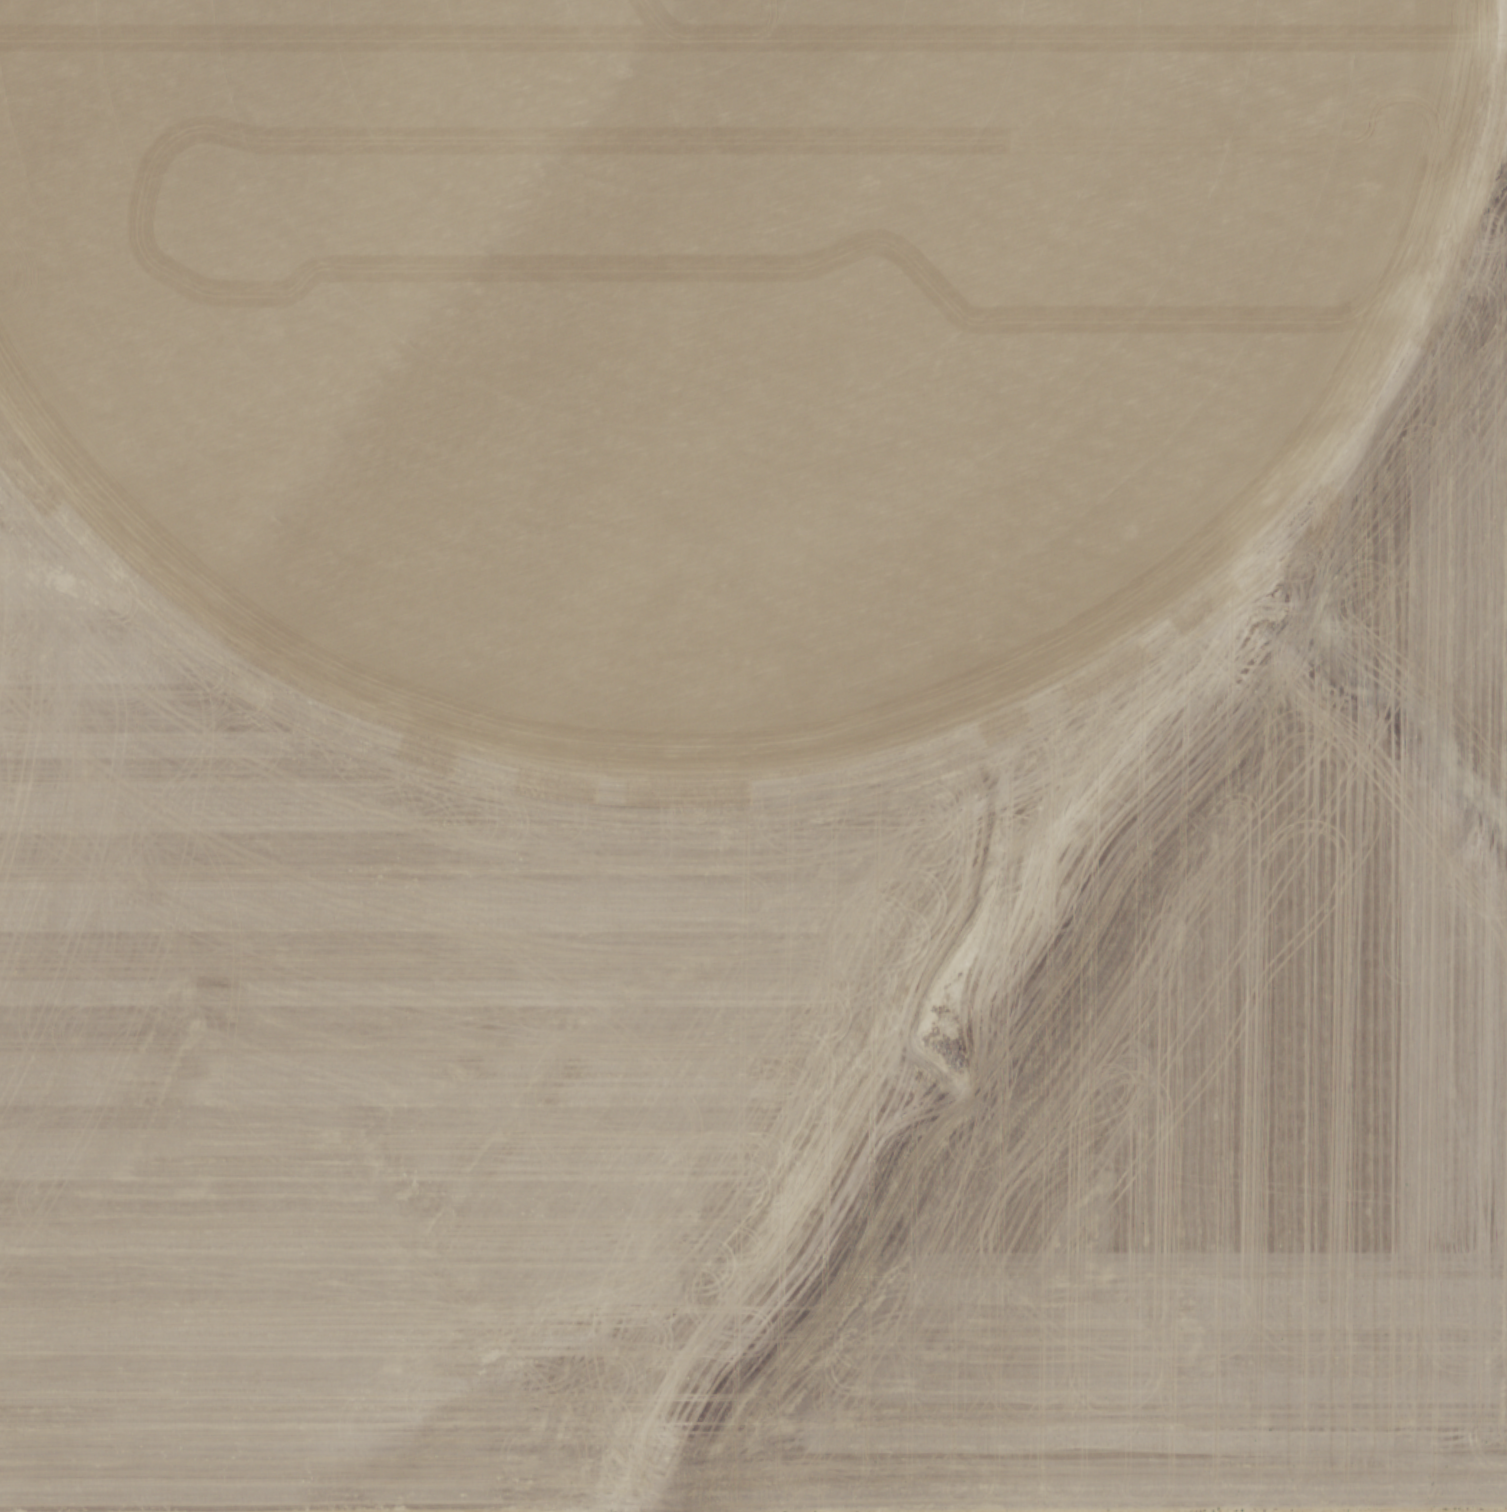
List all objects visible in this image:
crop: (717, 328)

